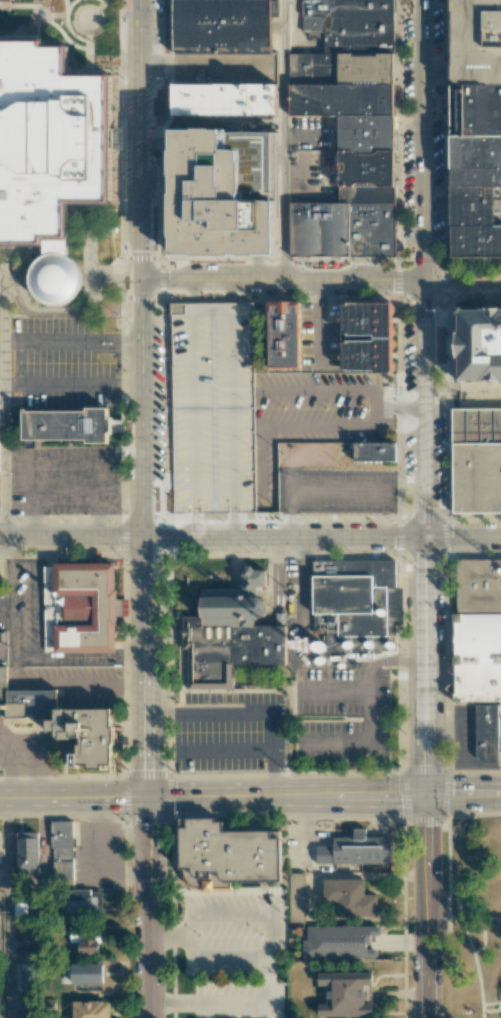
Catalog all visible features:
road: (102, 1)
road: (70, 2)
road: (4, 18)
road: (67, 24)
building: (225, 25)
road: (87, 29)
road: (62, 33)
building: (475, 40)
building: (224, 97)
building: (347, 129)
road: (283, 141)
building: (51, 154)
building: (474, 167)
parking lot: (242, 182)
building: (223, 192)
traffic signals: (144, 282)
road: (283, 282)
road: (461, 288)
road: (189, 295)
road: (225, 295)
road: (2, 311)
road: (209, 317)
road: (318, 325)
road: (55, 337)
building: (277, 342)
building: (479, 342)
building: (374, 343)
road: (2, 351)
parking lot: (60, 359)
flagpole: (450, 378)
road: (74, 381)
road: (485, 387)
parking lot: (479, 392)
road: (2, 396)
road: (423, 398)
road: (144, 399)
road: (403, 411)
road: (374, 412)
road: (379, 412)
road: (4, 414)
building: (247, 416)
parking garage: (247, 416)
building: (68, 424)
building: (372, 451)
building: (478, 460)
parking lot: (64, 480)
parking lot: (336, 491)
street lamp: (400, 505)
street lamp: (445, 512)
street lamp: (299, 521)
street lamp: (344, 521)
street lamp: (390, 521)
road: (194, 526)
road: (231, 526)
road: (462, 537)
road: (212, 538)
street lamp: (384, 552)
building: (359, 596)
building: (80, 608)
parking lot: (2, 613)
building: (232, 631)
parking lot: (2, 646)
parking lot: (23, 646)
building: (480, 648)
road: (395, 658)
road: (332, 691)
road: (251, 710)
parking lot: (285, 723)
building: (66, 726)
road: (370, 739)
road: (208, 749)
parking lot: (26, 752)
road: (462, 796)
road: (284, 797)
traffic signals: (424, 797)
road: (73, 798)
traffic signals: (146, 799)
road: (446, 806)
road: (435, 818)
building: (307, 849)
building: (64, 851)
building: (363, 851)
building: (27, 852)
parking lot: (99, 855)
building: (228, 855)
road: (95, 862)
road: (448, 876)
building: (297, 899)
building: (352, 899)
park: (462, 906)
road: (424, 907)
road: (8, 908)
road: (147, 908)
building: (20, 909)
road: (483, 928)
building: (29, 931)
parking lot: (232, 936)
building: (82, 941)
building: (340, 941)
road: (471, 946)
building: (30, 954)
building: (90, 977)
building: (344, 994)
road: (492, 1002)
building: (0, 1008)
building: (91, 1009)
road: (492, 1010)
building: (216, 1014)

